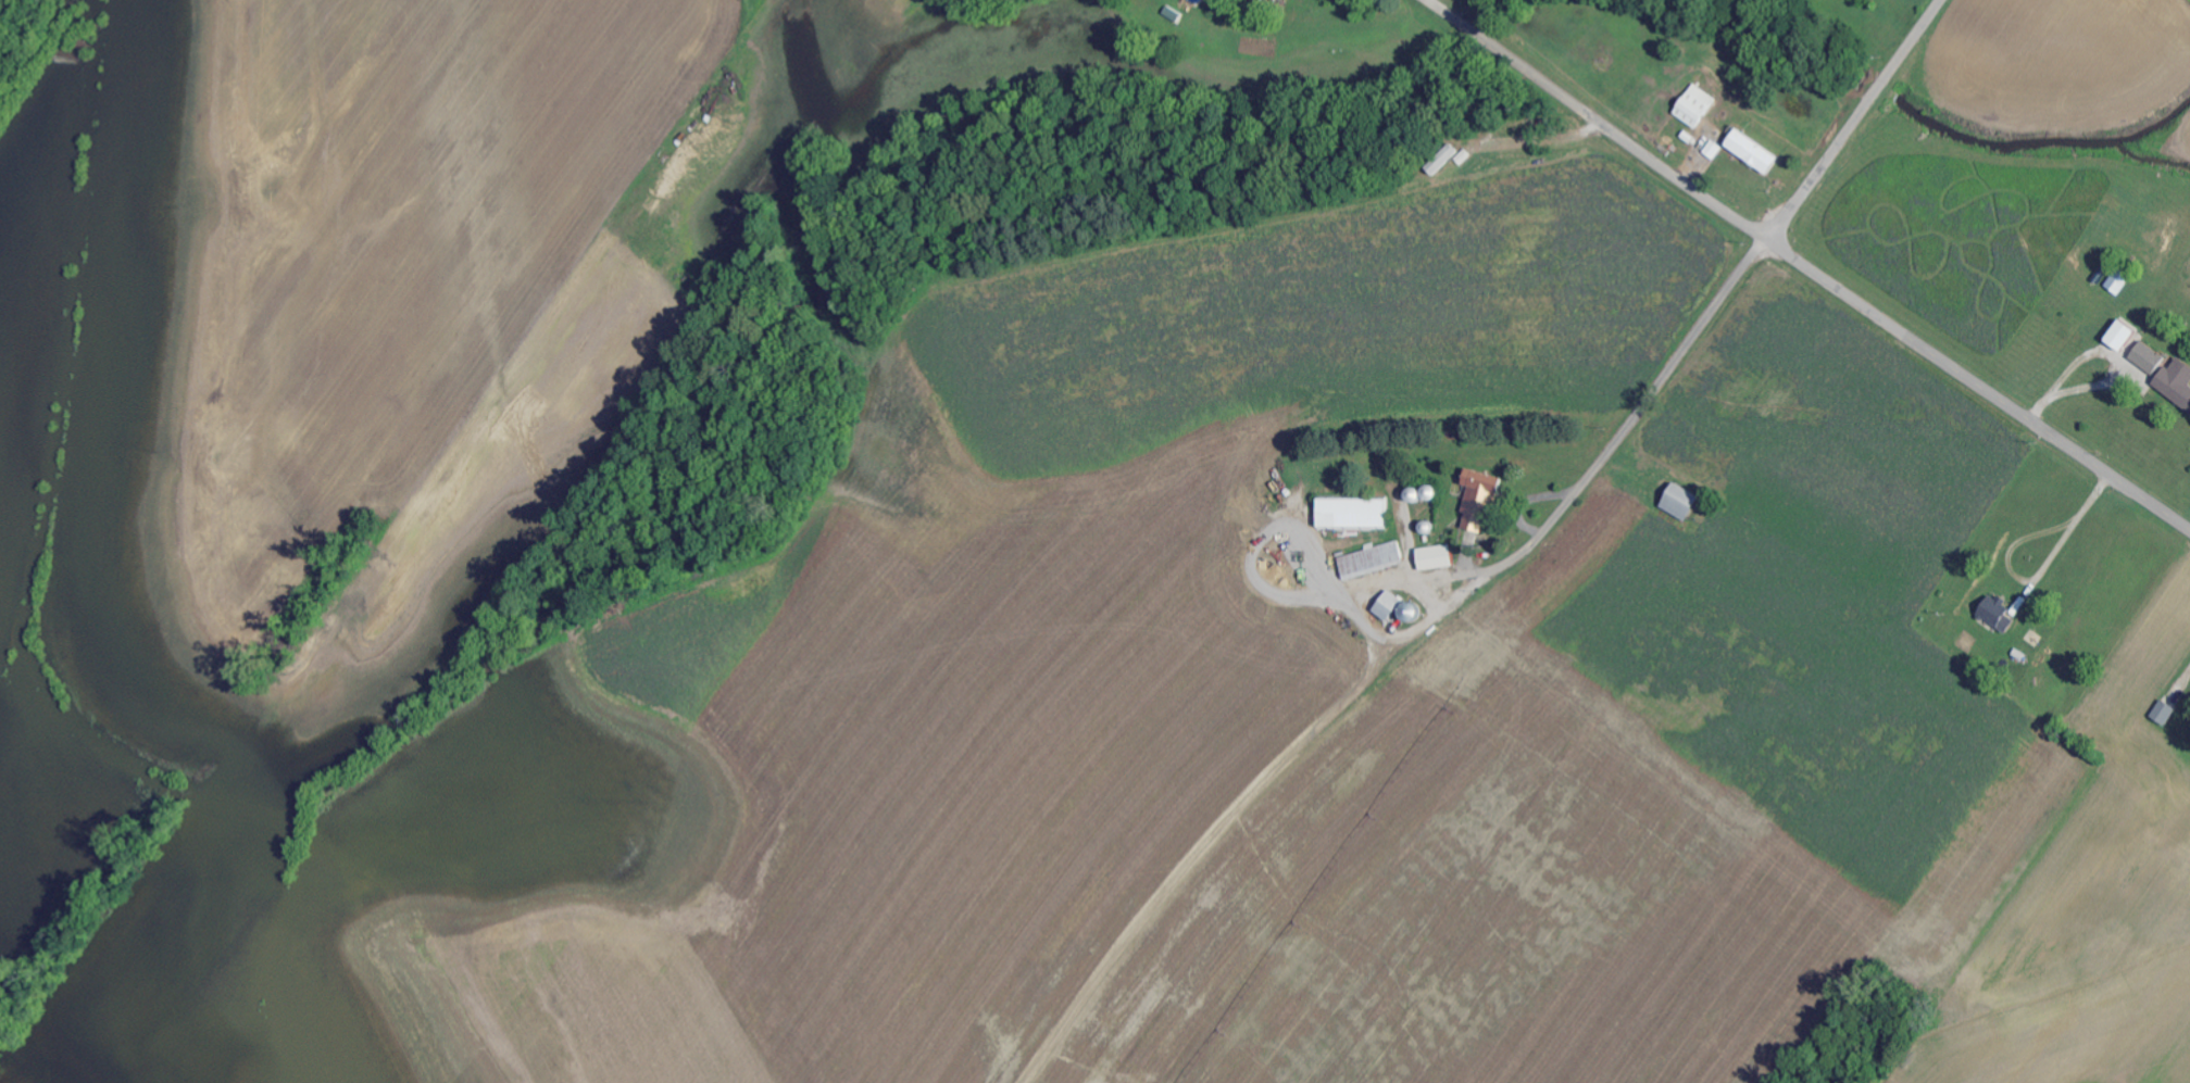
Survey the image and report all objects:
building: (1697, 105)
road: (1599, 119)
road: (1854, 119)
building: (1754, 152)
building: (1444, 160)
building: (2120, 282)
building: (2124, 337)
road: (2110, 355)
building: (2150, 358)
building: (2177, 382)
road: (1978, 383)
building: (1481, 501)
building: (1681, 503)
building: (1354, 515)
building: (1289, 556)
building: (1437, 558)
building: (1373, 561)
road: (1489, 576)
road: (1417, 579)
road: (2040, 579)
road: (1434, 594)
building: (1390, 606)
building: (1999, 614)
building: (2166, 714)

